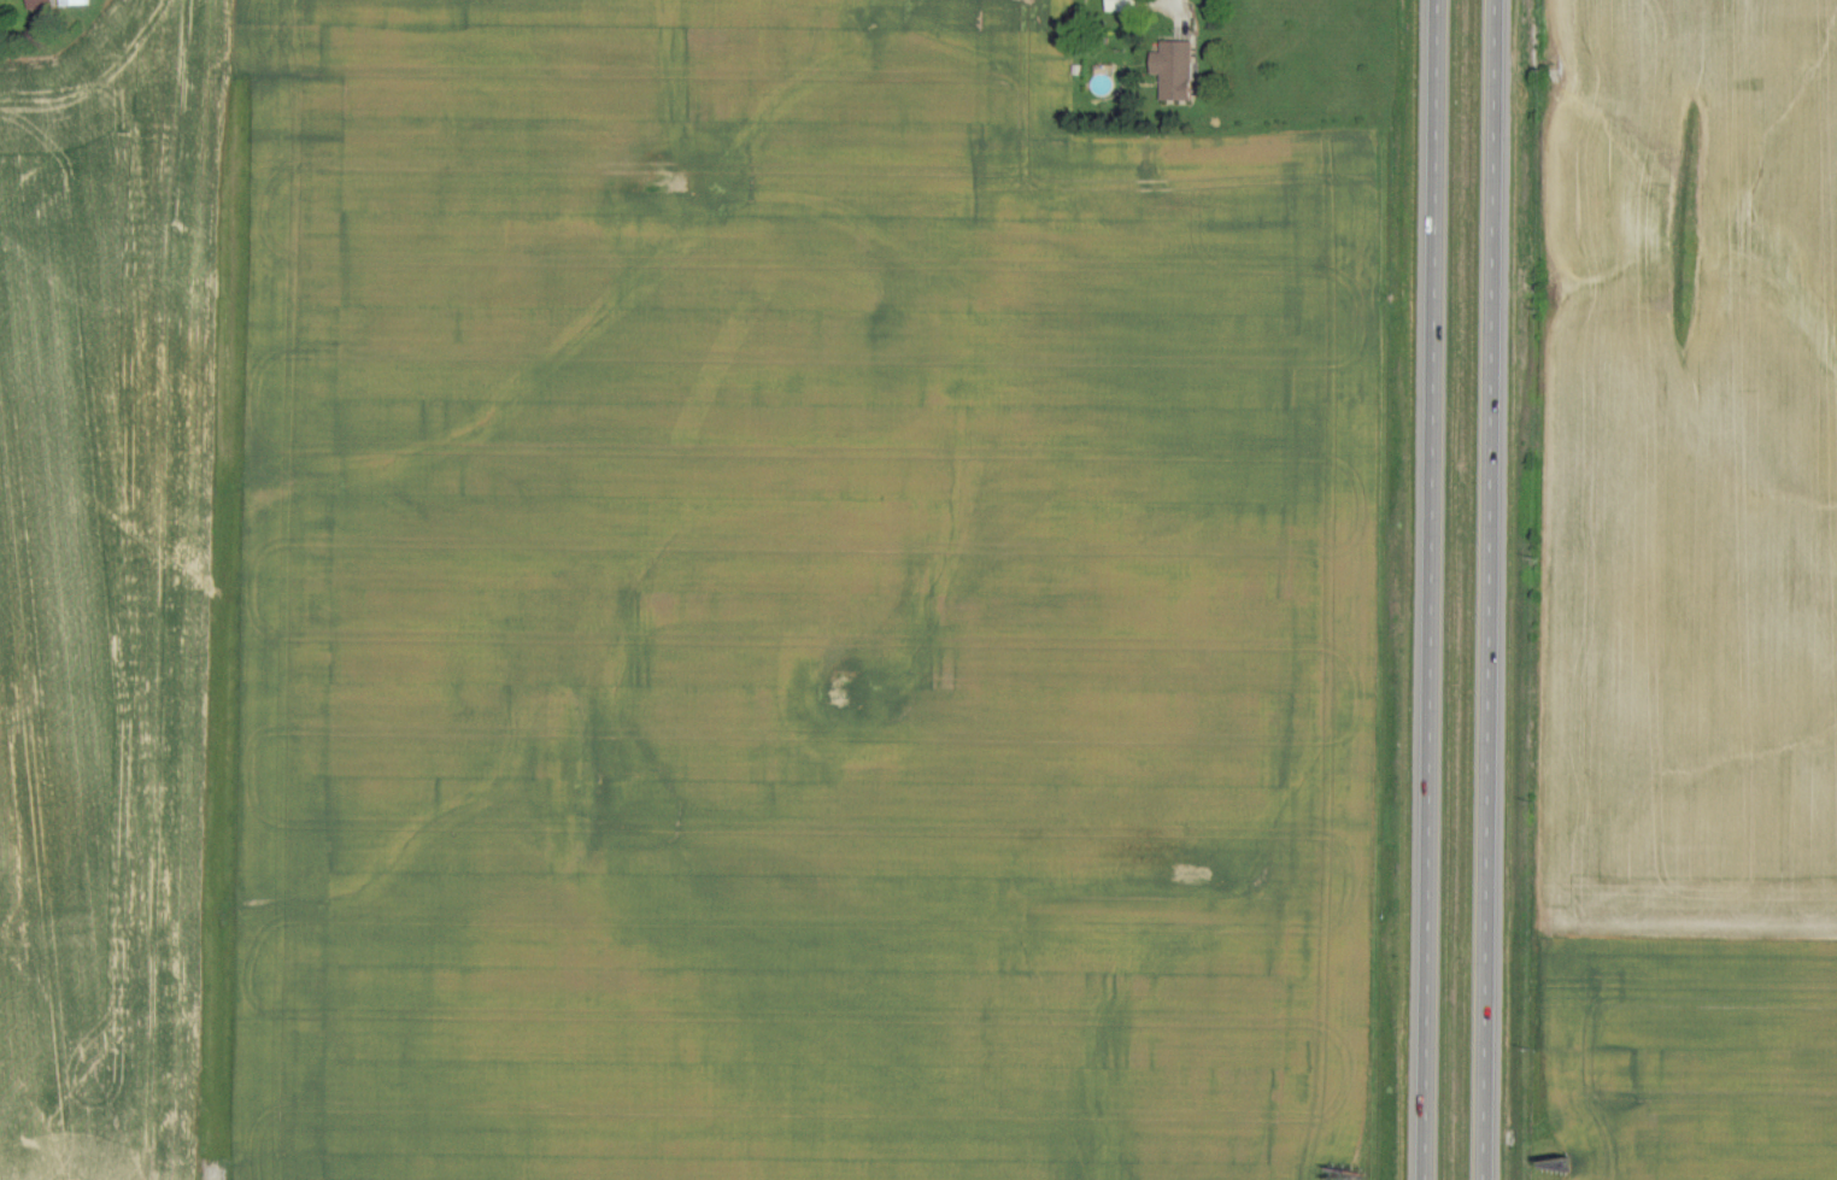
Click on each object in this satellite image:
building: (72, 4)
building: (1120, 6)
building: (1174, 72)
road: (1431, 589)
road: (1489, 589)

